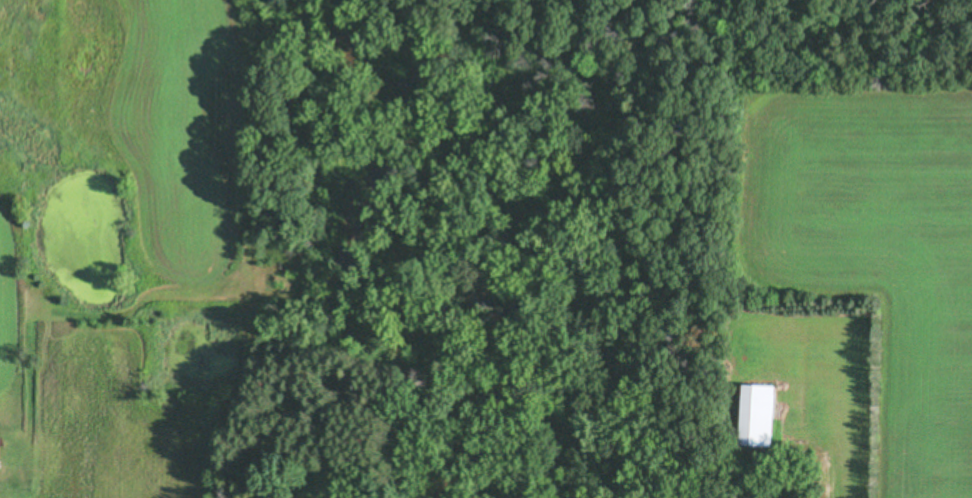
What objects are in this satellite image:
crop: (124, 202)
crop: (862, 237)
building: (763, 415)
building: (1, 457)

